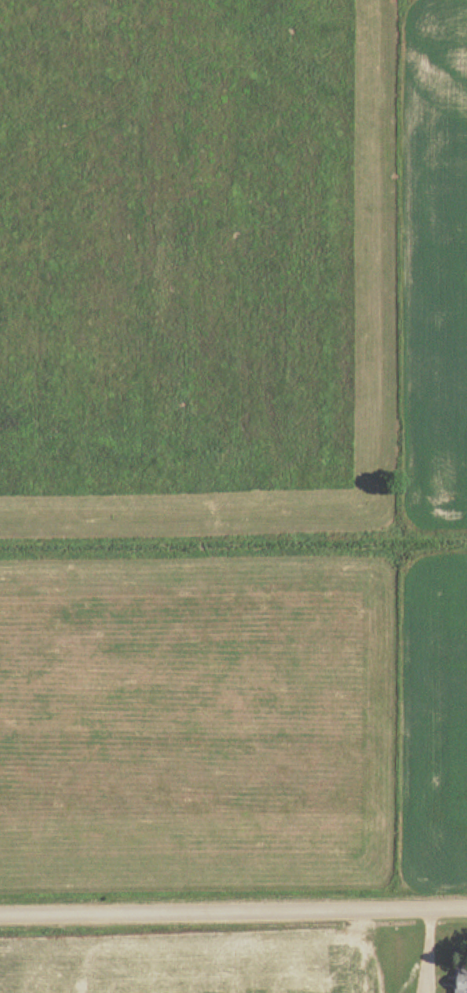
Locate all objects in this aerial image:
road: (233, 910)
building: (462, 980)

